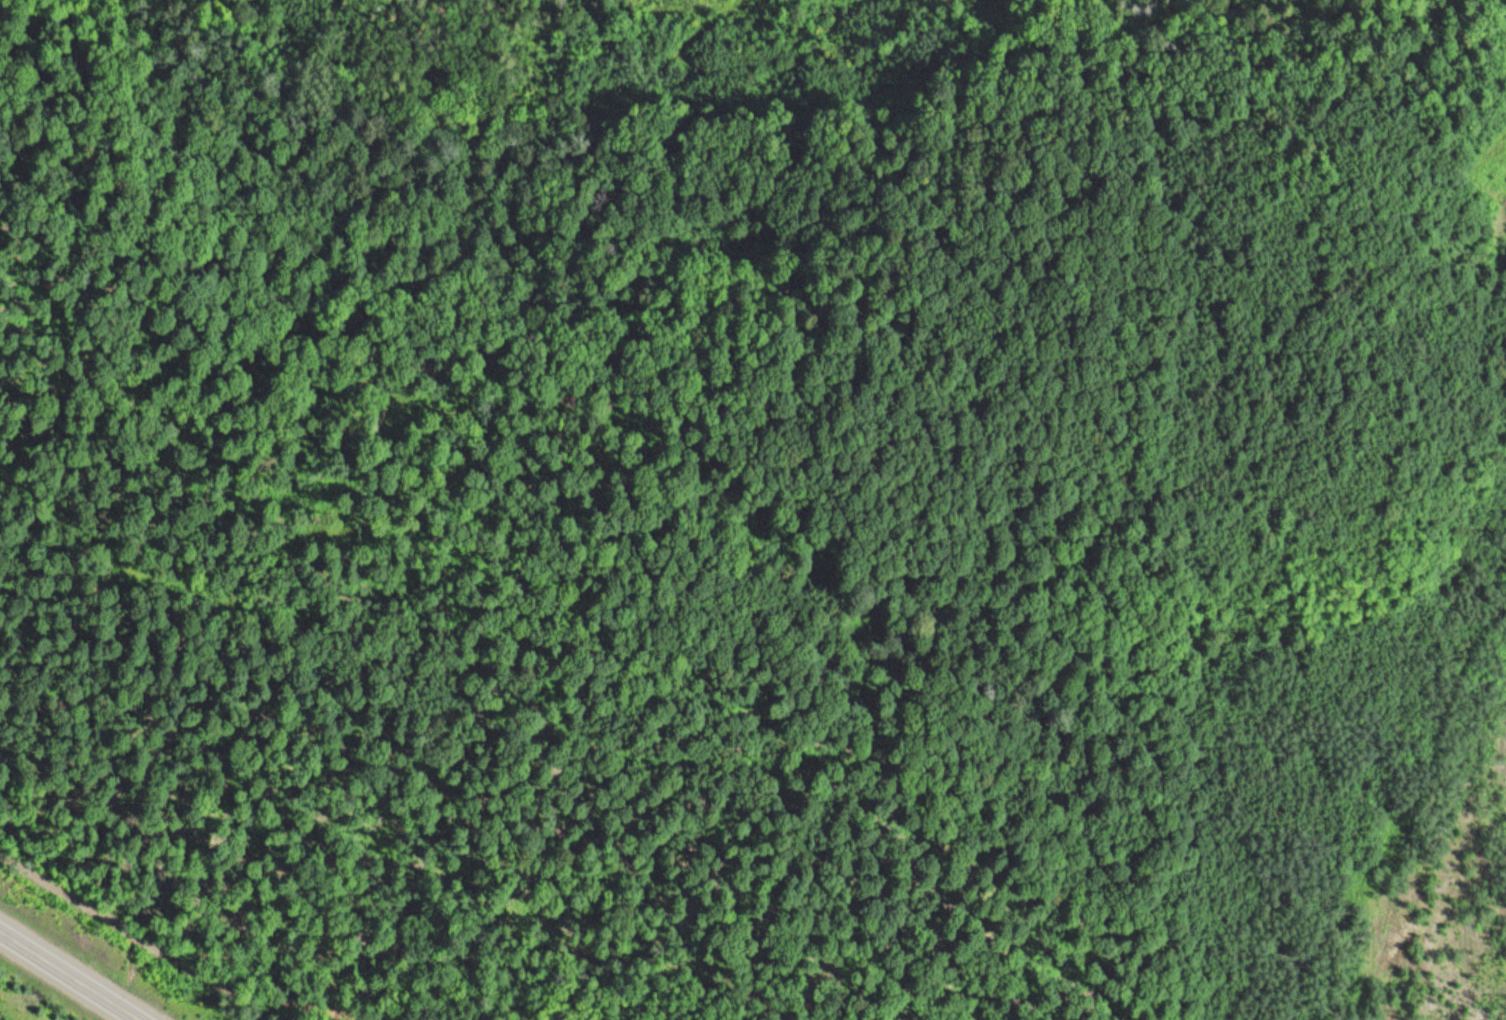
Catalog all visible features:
road: (71, 974)

